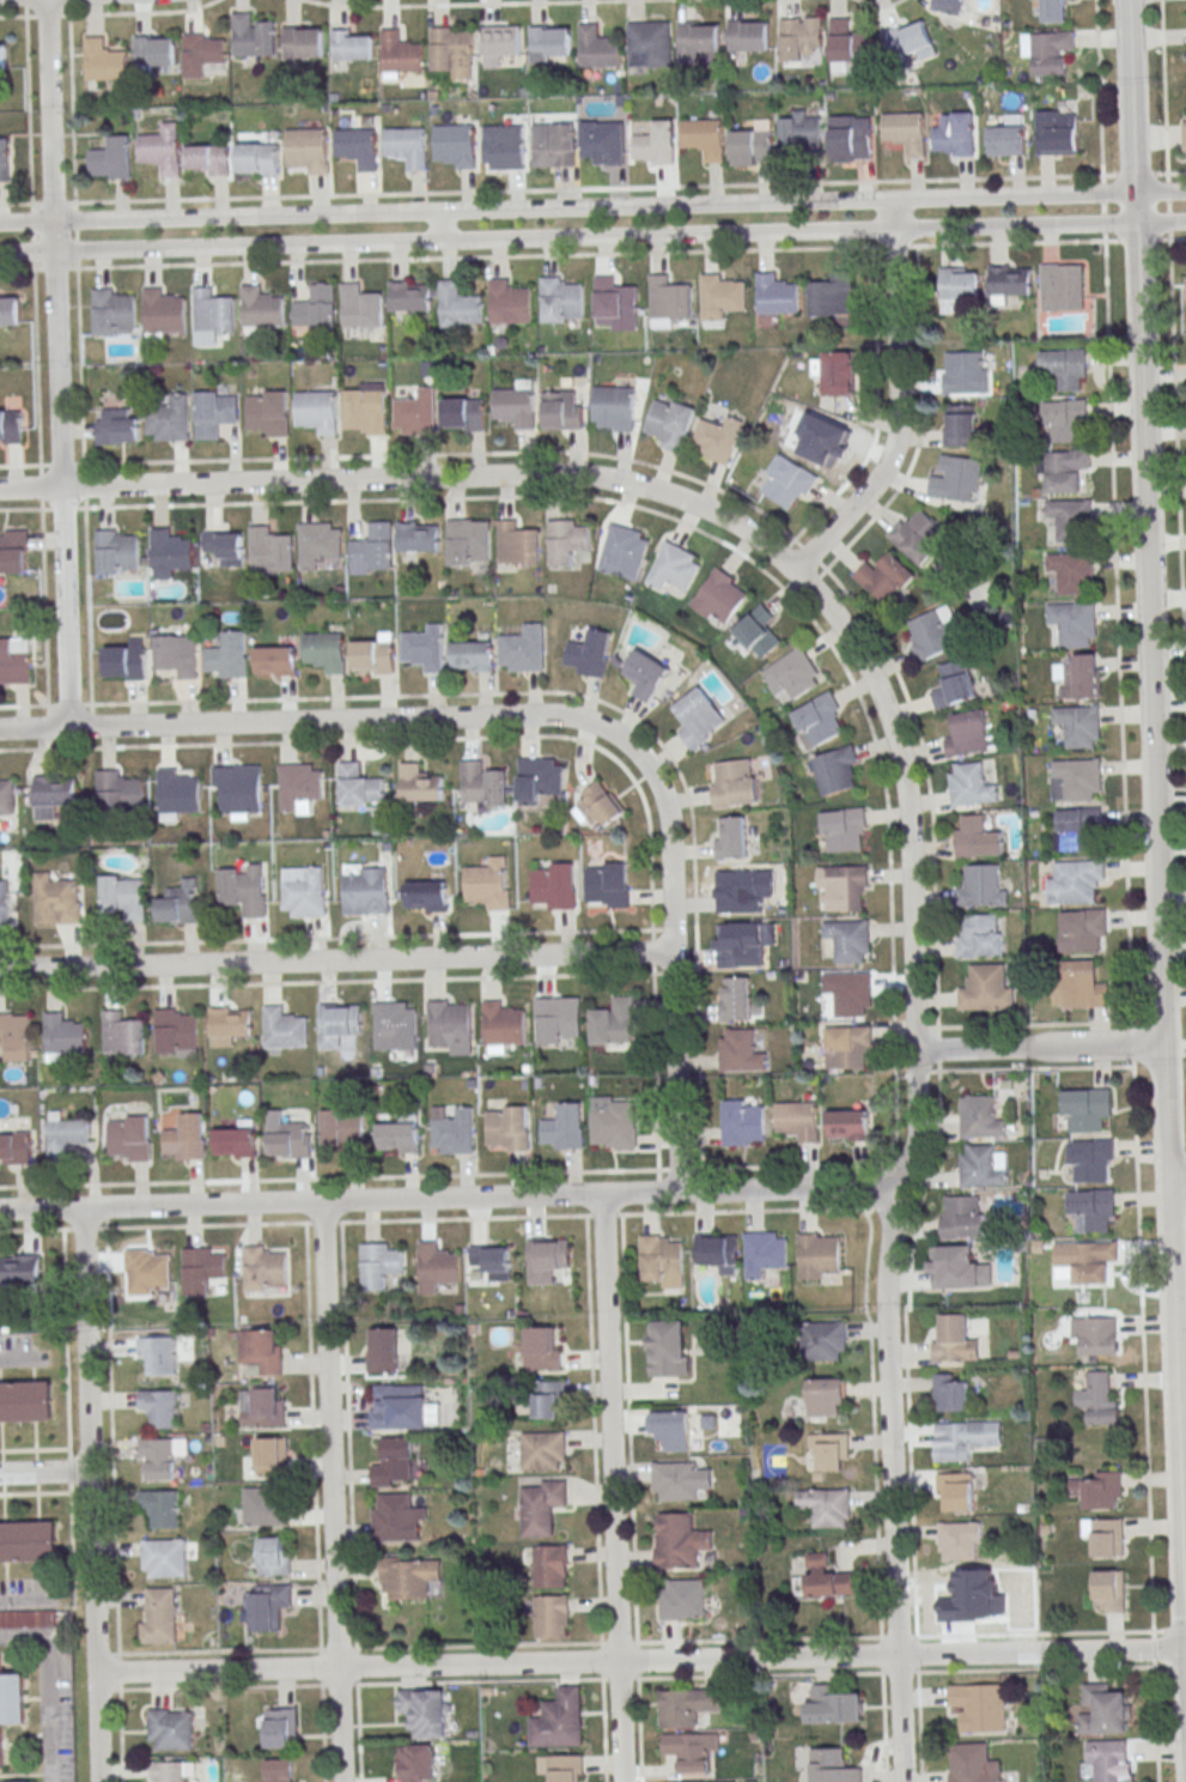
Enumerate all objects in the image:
road: (457, 4)
road: (877, 4)
building: (948, 6)
building: (1053, 11)
building: (748, 35)
building: (251, 36)
building: (799, 37)
building: (699, 41)
building: (911, 41)
building: (303, 43)
building: (500, 43)
building: (353, 44)
building: (551, 44)
building: (650, 44)
building: (847, 44)
building: (597, 47)
building: (154, 50)
building: (1047, 50)
building: (451, 51)
building: (201, 53)
building: (2, 54)
building: (400, 54)
building: (103, 60)
road: (1163, 90)
road: (1099, 91)
road: (1130, 96)
road: (71, 110)
building: (905, 131)
building: (801, 132)
building: (1057, 132)
building: (953, 134)
building: (1184, 135)
building: (704, 137)
building: (1006, 137)
building: (850, 138)
building: (602, 141)
building: (553, 144)
building: (655, 144)
building: (455, 145)
building: (357, 146)
building: (407, 146)
building: (504, 146)
building: (752, 147)
building: (162, 148)
building: (308, 148)
building: (208, 157)
building: (259, 157)
building: (110, 158)
building: (5, 159)
road: (1169, 172)
road: (1135, 174)
road: (591, 188)
road: (1167, 190)
road: (1102, 193)
road: (1160, 193)
road: (1012, 195)
road: (18, 202)
road: (53, 202)
road: (1168, 206)
road: (1103, 207)
road: (1133, 207)
road: (445, 210)
road: (73, 219)
road: (1160, 222)
road: (1168, 222)
road: (1103, 223)
road: (443, 225)
road: (1012, 225)
road: (74, 235)
road: (1173, 238)
road: (445, 240)
road: (1138, 240)
road: (1111, 241)
road: (75, 250)
road: (586, 254)
road: (75, 265)
road: (54, 267)
road: (19, 268)
building: (1010, 280)
building: (957, 286)
building: (1062, 286)
building: (776, 295)
building: (832, 296)
building: (409, 297)
building: (720, 298)
building: (559, 299)
building: (668, 301)
building: (613, 302)
building: (509, 303)
building: (457, 304)
building: (360, 307)
building: (261, 308)
building: (316, 308)
building: (8, 310)
building: (162, 310)
building: (213, 310)
building: (111, 313)
road: (55, 363)
building: (1064, 368)
building: (838, 372)
building: (965, 372)
road: (895, 404)
building: (513, 406)
building: (614, 406)
building: (365, 408)
building: (562, 410)
building: (267, 411)
building: (316, 411)
building: (213, 412)
building: (415, 412)
building: (463, 414)
building: (168, 420)
building: (1065, 420)
building: (669, 423)
building: (116, 425)
building: (959, 425)
building: (10, 426)
building: (821, 437)
building: (717, 438)
road: (273, 457)
building: (1064, 469)
road: (1176, 473)
road: (408, 478)
building: (786, 480)
building: (956, 480)
road: (81, 485)
road: (38, 486)
building: (1071, 519)
building: (917, 535)
building: (418, 537)
road: (713, 538)
building: (567, 541)
building: (468, 543)
building: (517, 543)
building: (318, 544)
building: (224, 547)
building: (371, 548)
building: (621, 548)
building: (13, 551)
building: (116, 551)
building: (268, 552)
building: (169, 553)
building: (671, 566)
building: (1071, 571)
building: (884, 577)
building: (718, 595)
building: (1074, 623)
road: (1118, 629)
building: (758, 632)
building: (935, 632)
building: (424, 647)
building: (522, 649)
building: (326, 650)
building: (588, 653)
building: (176, 654)
building: (227, 655)
building: (375, 655)
building: (472, 656)
building: (14, 659)
building: (127, 660)
building: (274, 660)
building: (792, 673)
building: (646, 674)
building: (1082, 675)
building: (954, 684)
road: (276, 698)
road: (547, 715)
building: (698, 717)
building: (817, 719)
building: (1078, 725)
building: (968, 734)
road: (274, 741)
building: (835, 771)
building: (539, 778)
building: (1079, 778)
building: (731, 782)
building: (420, 783)
building: (481, 784)
building: (969, 784)
building: (359, 786)
building: (298, 787)
building: (237, 789)
building: (116, 792)
building: (177, 792)
building: (53, 795)
building: (7, 796)
building: (596, 805)
building: (1077, 829)
building: (843, 830)
building: (730, 837)
road: (650, 853)
building: (1075, 881)
building: (488, 884)
building: (608, 885)
building: (554, 886)
building: (846, 886)
building: (981, 886)
building: (244, 890)
building: (366, 890)
road: (694, 891)
building: (303, 893)
building: (735, 893)
building: (123, 896)
building: (425, 897)
building: (56, 901)
building: (178, 903)
building: (5, 907)
building: (1083, 929)
building: (980, 935)
building: (847, 939)
building: (743, 944)
road: (652, 951)
road: (337, 959)
road: (1158, 960)
building: (1078, 986)
building: (985, 988)
building: (849, 993)
building: (736, 1000)
road: (936, 1010)
building: (555, 1020)
building: (613, 1022)
building: (339, 1023)
building: (394, 1023)
building: (448, 1023)
building: (503, 1024)
road: (1034, 1024)
building: (229, 1025)
building: (284, 1029)
building: (176, 1031)
building: (65, 1034)
building: (122, 1035)
building: (16, 1036)
road: (1132, 1043)
road: (1038, 1045)
building: (847, 1048)
building: (740, 1050)
road: (1035, 1068)
road: (656, 1071)
building: (1088, 1109)
building: (981, 1117)
building: (613, 1122)
building: (797, 1122)
building: (742, 1123)
building: (847, 1125)
building: (509, 1128)
building: (565, 1128)
building: (343, 1131)
building: (455, 1132)
building: (63, 1137)
building: (187, 1138)
building: (400, 1138)
building: (130, 1139)
building: (291, 1140)
building: (237, 1142)
building: (17, 1147)
road: (1144, 1158)
road: (1169, 1158)
building: (1091, 1159)
road: (907, 1162)
building: (981, 1166)
road: (425, 1175)
road: (1176, 1180)
road: (449, 1196)
building: (1093, 1208)
road: (426, 1218)
building: (962, 1218)
building: (714, 1251)
building: (765, 1251)
building: (819, 1255)
building: (546, 1259)
building: (1085, 1260)
building: (491, 1261)
building: (662, 1261)
building: (379, 1265)
building: (436, 1267)
building: (202, 1268)
building: (19, 1269)
building: (264, 1269)
building: (961, 1269)
building: (148, 1272)
road: (1179, 1314)
building: (1094, 1335)
road: (63, 1338)
building: (954, 1339)
building: (823, 1341)
building: (540, 1348)
building: (668, 1348)
road: (1142, 1348)
building: (263, 1350)
building: (383, 1350)
building: (162, 1354)
road: (19, 1358)
building: (950, 1393)
building: (827, 1396)
building: (548, 1399)
building: (1100, 1400)
building: (25, 1401)
building: (263, 1407)
building: (401, 1407)
building: (162, 1408)
road: (1180, 1413)
building: (670, 1429)
building: (963, 1439)
building: (543, 1449)
building: (831, 1451)
building: (272, 1455)
building: (160, 1457)
building: (394, 1463)
road: (44, 1471)
road: (68, 1471)
building: (675, 1480)
road: (610, 1487)
road: (876, 1490)
road: (333, 1491)
building: (1102, 1491)
building: (955, 1492)
road: (91, 1493)
road: (595, 1498)
road: (315, 1502)
road: (351, 1502)
road: (112, 1504)
building: (266, 1507)
building: (542, 1507)
building: (825, 1507)
building: (163, 1508)
building: (396, 1519)
road: (1182, 1522)
building: (1103, 1535)
building: (679, 1540)
building: (960, 1540)
building: (29, 1541)
road: (71, 1550)
building: (274, 1556)
building: (166, 1558)
building: (551, 1566)
road: (1184, 1572)
building: (408, 1577)
building: (827, 1577)
building: (1109, 1592)
parking lot: (28, 1594)
building: (960, 1596)
road: (19, 1598)
building: (682, 1599)
building: (1024, 1604)
building: (267, 1606)
building: (552, 1616)
building: (160, 1617)
building: (26, 1619)
road: (640, 1642)
road: (1152, 1649)
road: (638, 1660)
road: (640, 1677)
road: (47, 1685)
building: (11, 1704)
building: (687, 1707)
building: (832, 1707)
building: (980, 1707)
building: (425, 1711)
building: (1103, 1711)
building: (559, 1720)
road: (1155, 1722)
building: (279, 1728)
building: (171, 1729)
road: (638, 1729)
building: (692, 1751)
building: (1109, 1760)
building: (415, 1763)
building: (974, 1764)
building: (834, 1766)
building: (568, 1768)
building: (169, 1771)
building: (280, 1771)

